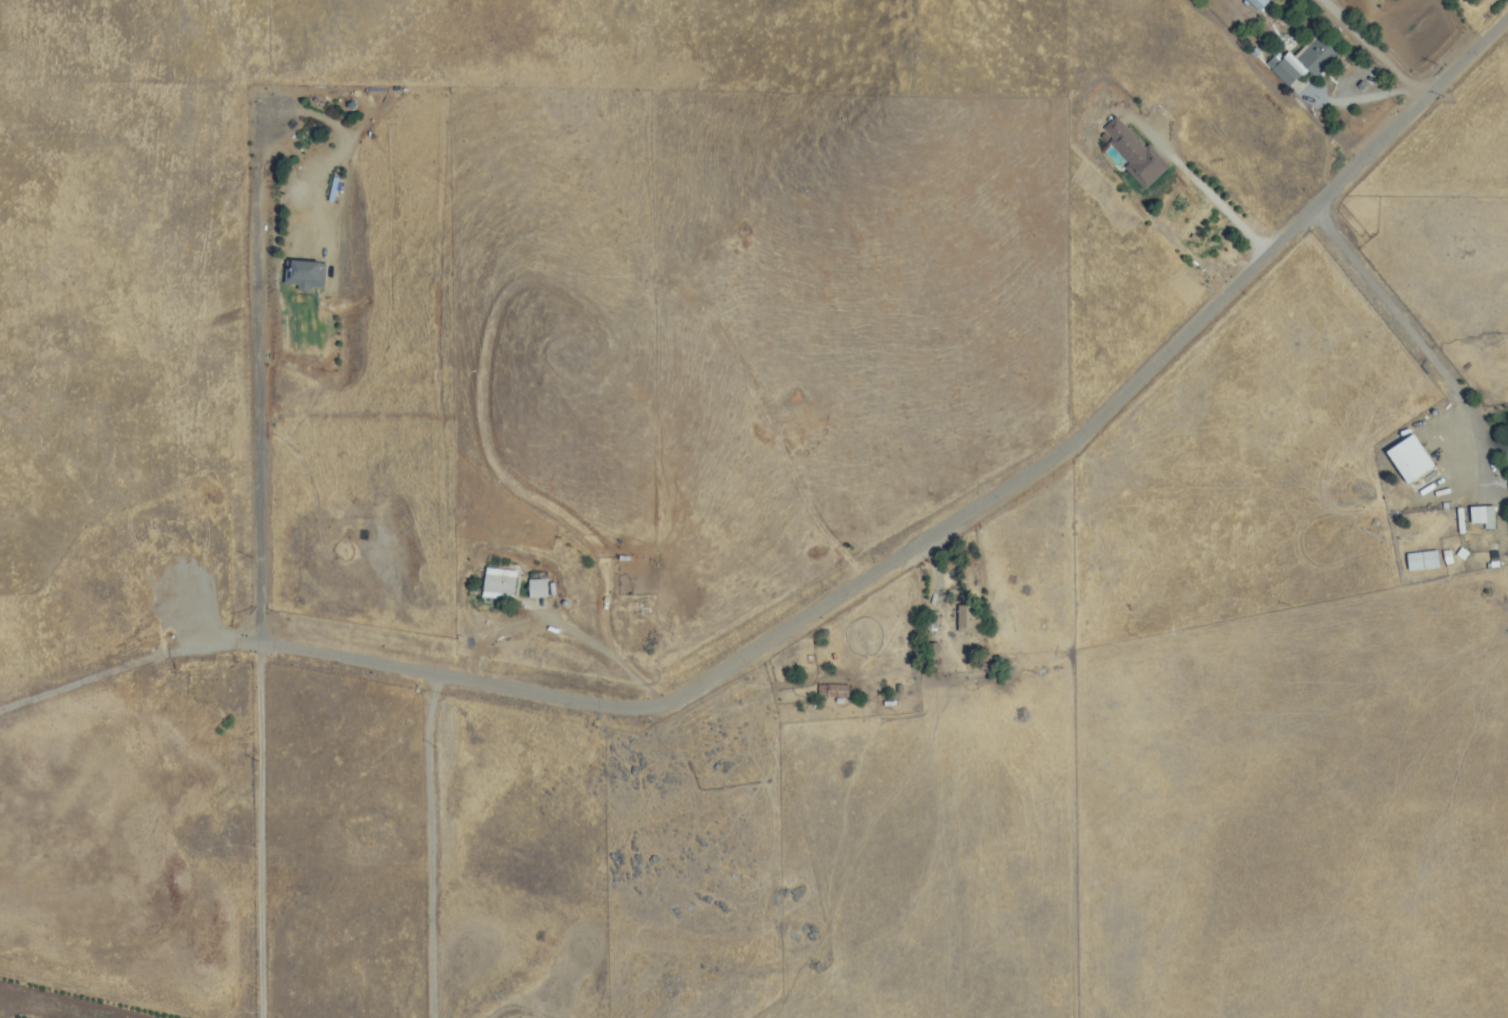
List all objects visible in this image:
building: (1257, 4)
road: (1378, 48)
building: (1317, 58)
building: (1281, 70)
building: (1130, 151)
road: (263, 312)
road: (1419, 346)
building: (1481, 516)
building: (498, 582)
building: (537, 588)
road: (839, 597)
building: (958, 616)
building: (836, 691)
road: (255, 831)
road: (431, 846)

